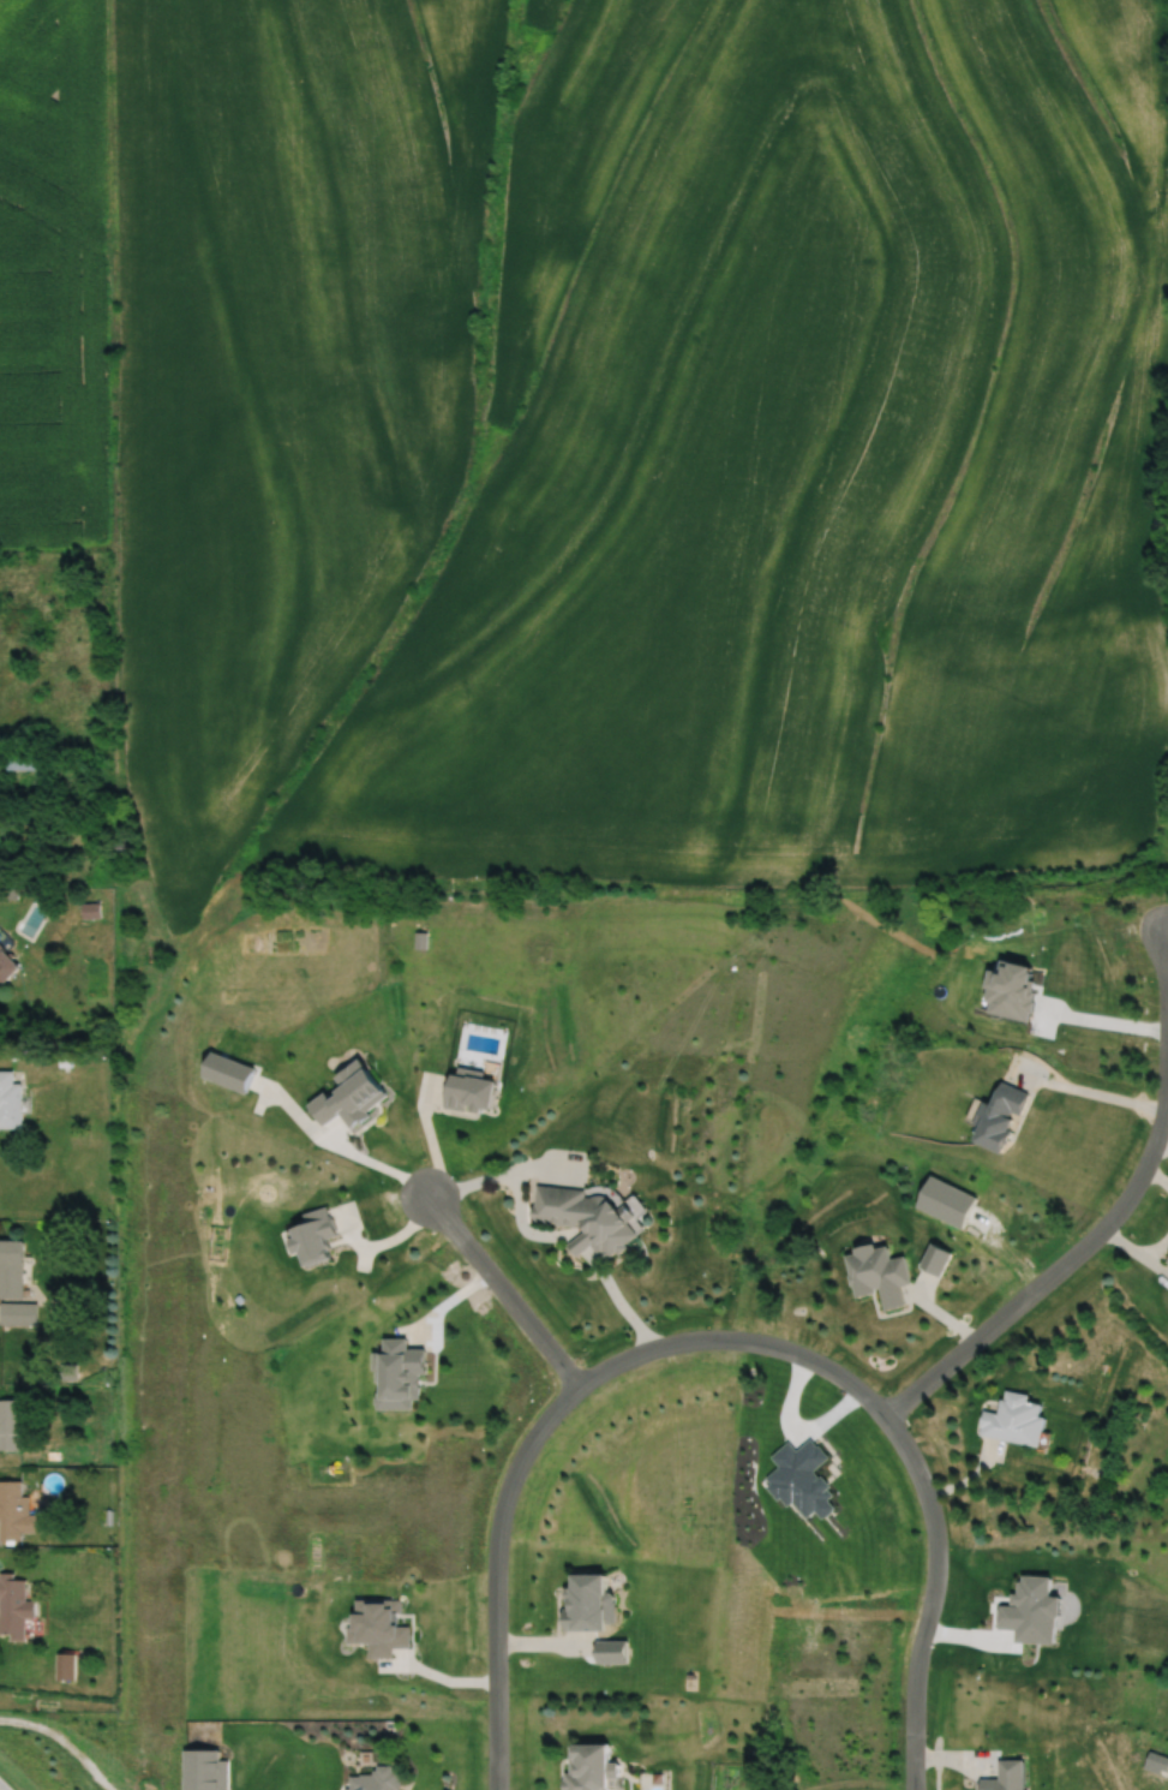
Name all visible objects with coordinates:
crop: (52, 275)
crop: (633, 441)
building: (20, 760)
building: (90, 911)
building: (6, 967)
road: (1100, 1019)
building: (473, 1093)
road: (1096, 1093)
building: (10, 1102)
building: (1004, 1118)
road: (351, 1152)
road: (1112, 1213)
building: (587, 1219)
road: (550, 1234)
road: (384, 1240)
building: (1167, 1261)
building: (11, 1269)
building: (880, 1276)
road: (503, 1289)
building: (18, 1313)
road: (720, 1343)
building: (1017, 1421)
building: (11, 1425)
building: (17, 1512)
building: (13, 1606)
road: (61, 1742)
building: (591, 1766)
building: (1010, 1776)

